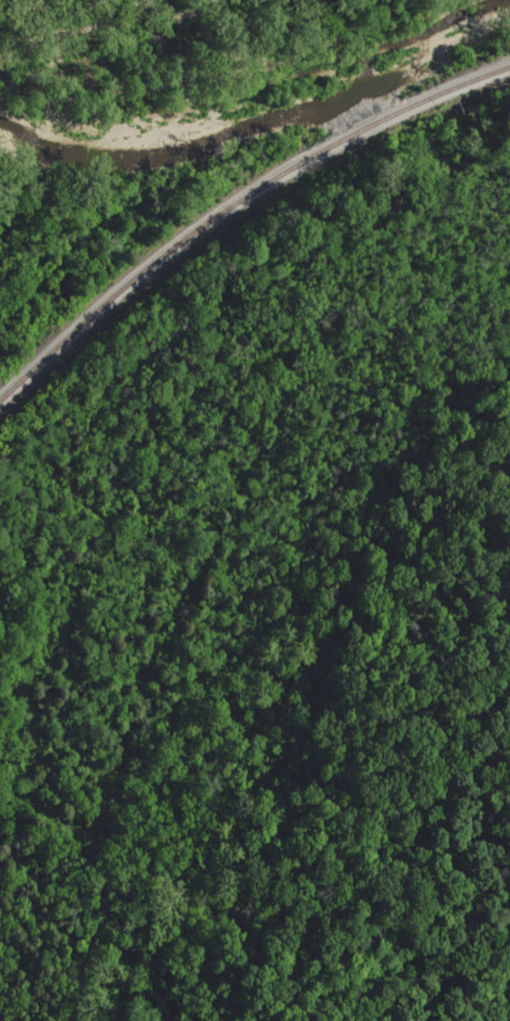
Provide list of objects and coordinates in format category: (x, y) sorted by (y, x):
railway: (236, 203)

